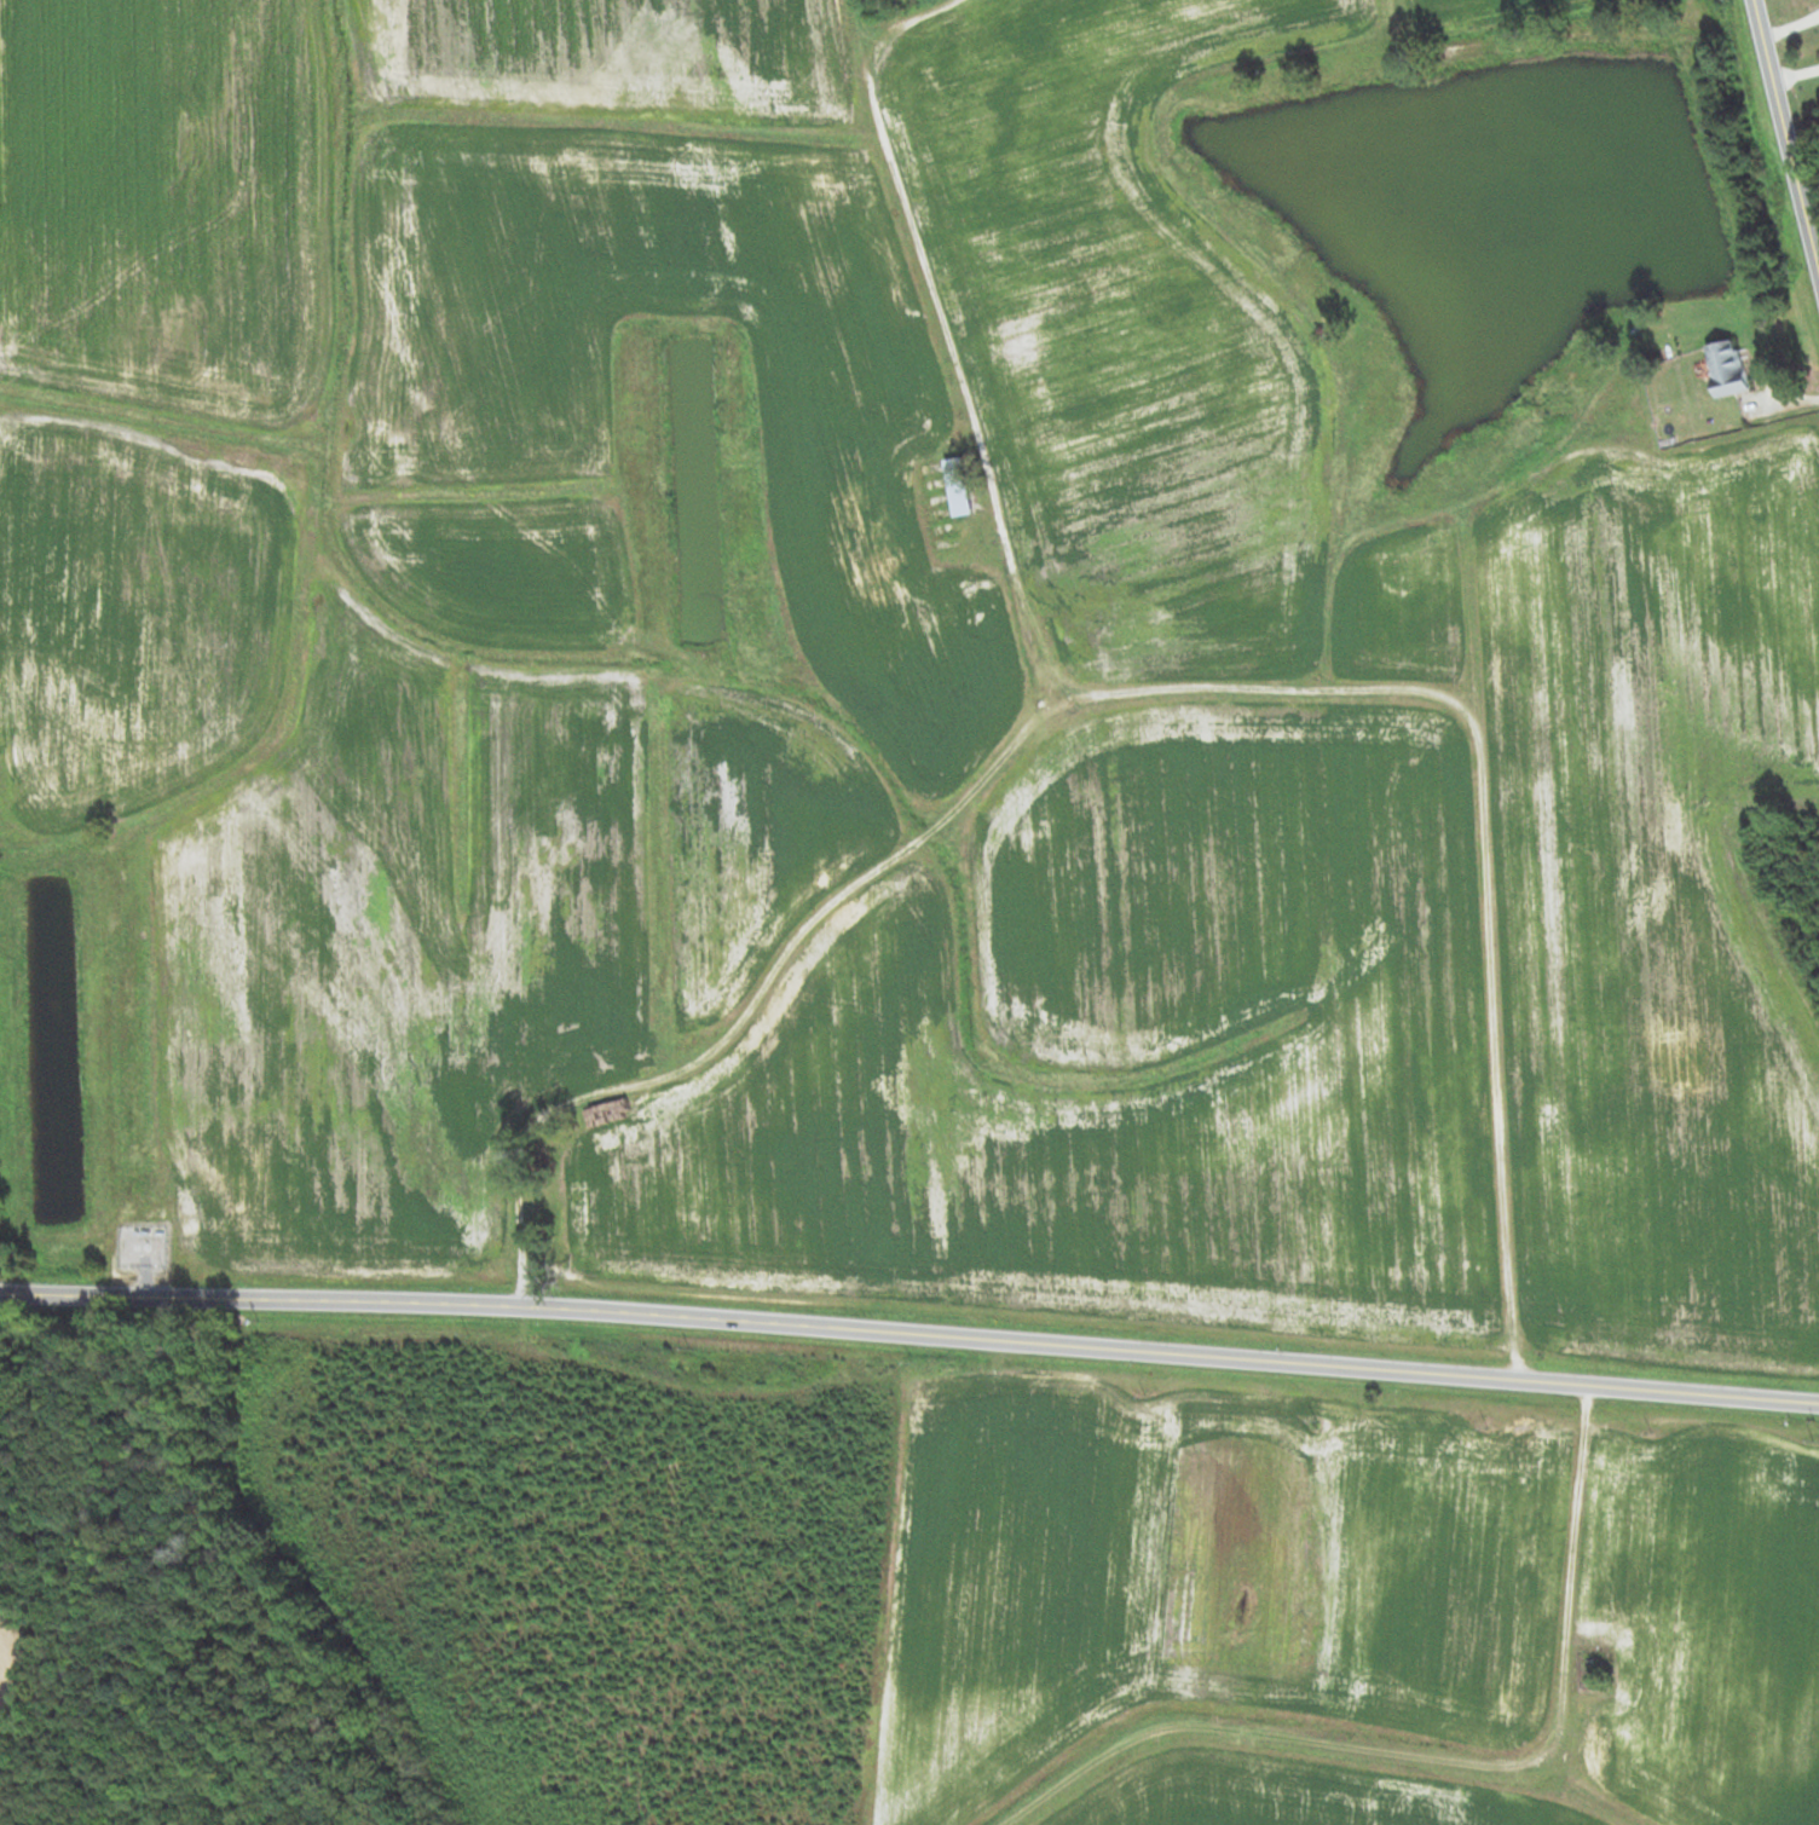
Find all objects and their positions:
road: (1785, 142)
building: (1727, 368)
building: (958, 487)
building: (862, 514)
building: (883, 568)
road: (593, 1313)
road: (1502, 1378)

